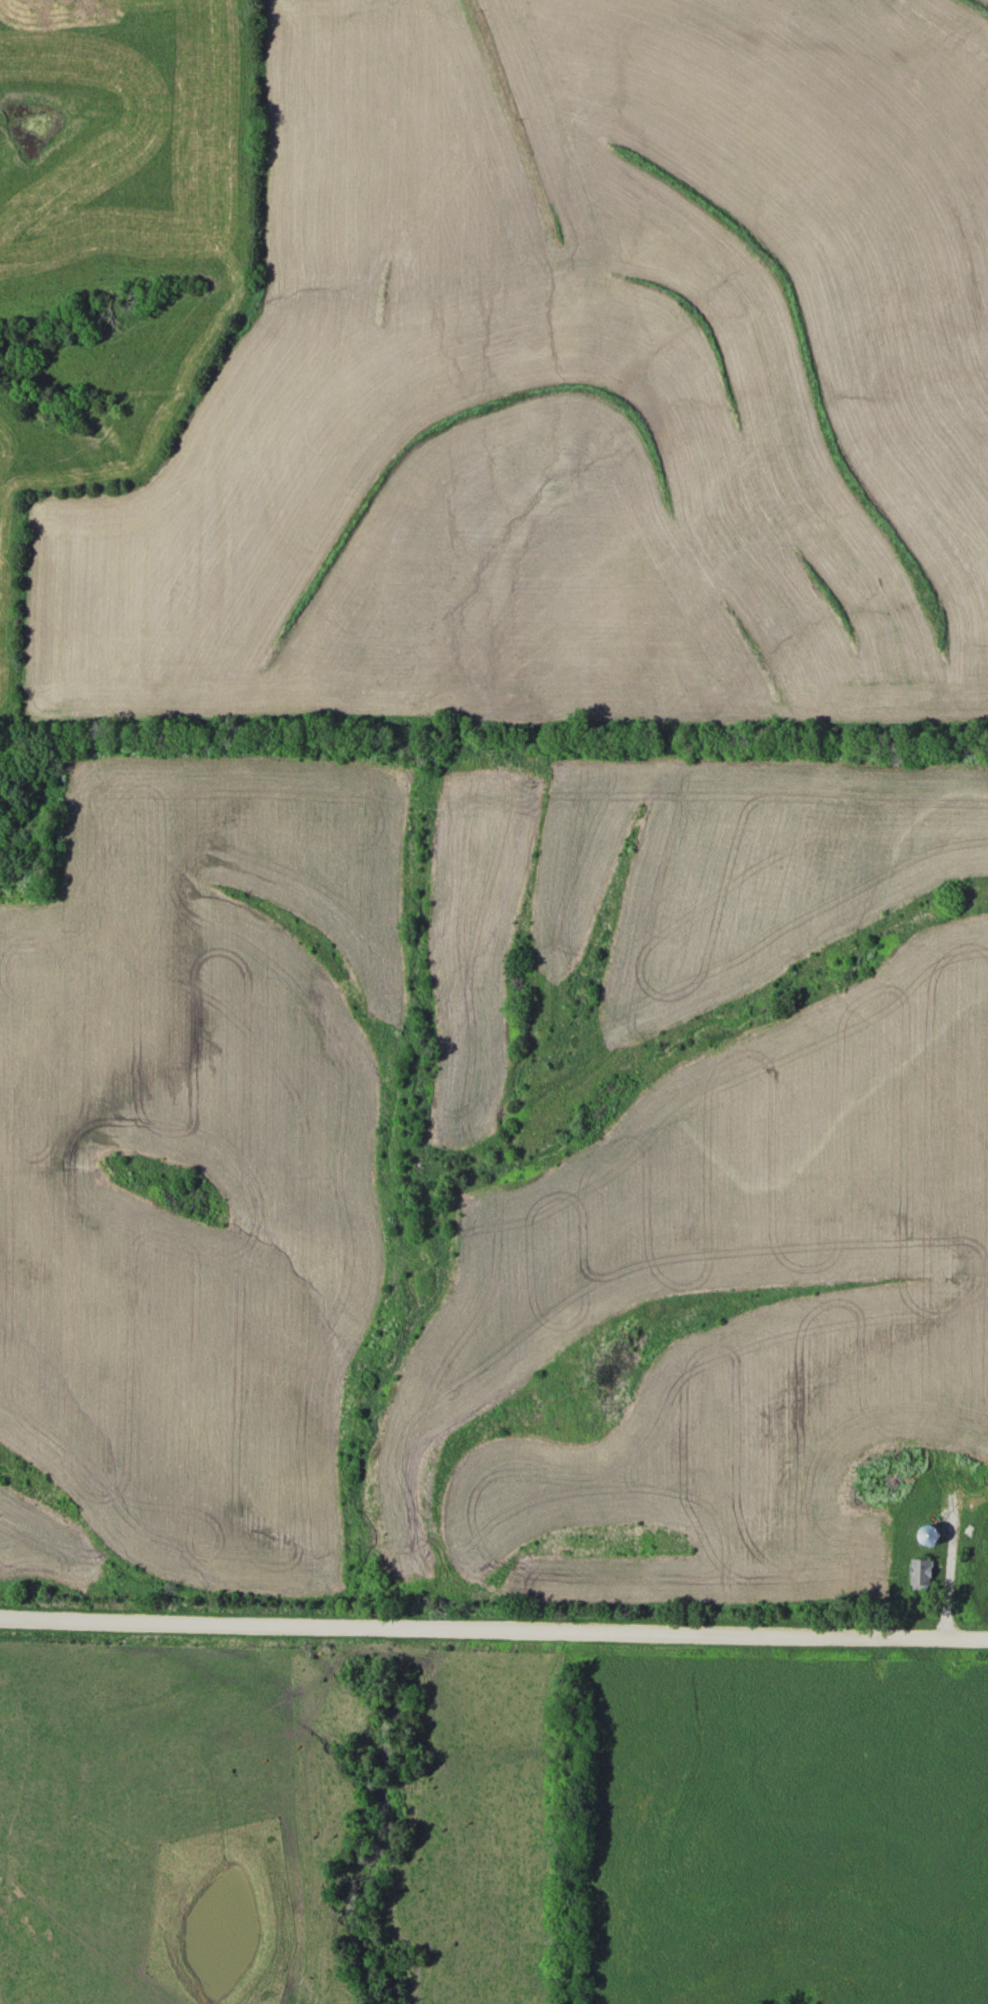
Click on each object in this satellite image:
building: (917, 1570)
road: (493, 1626)

